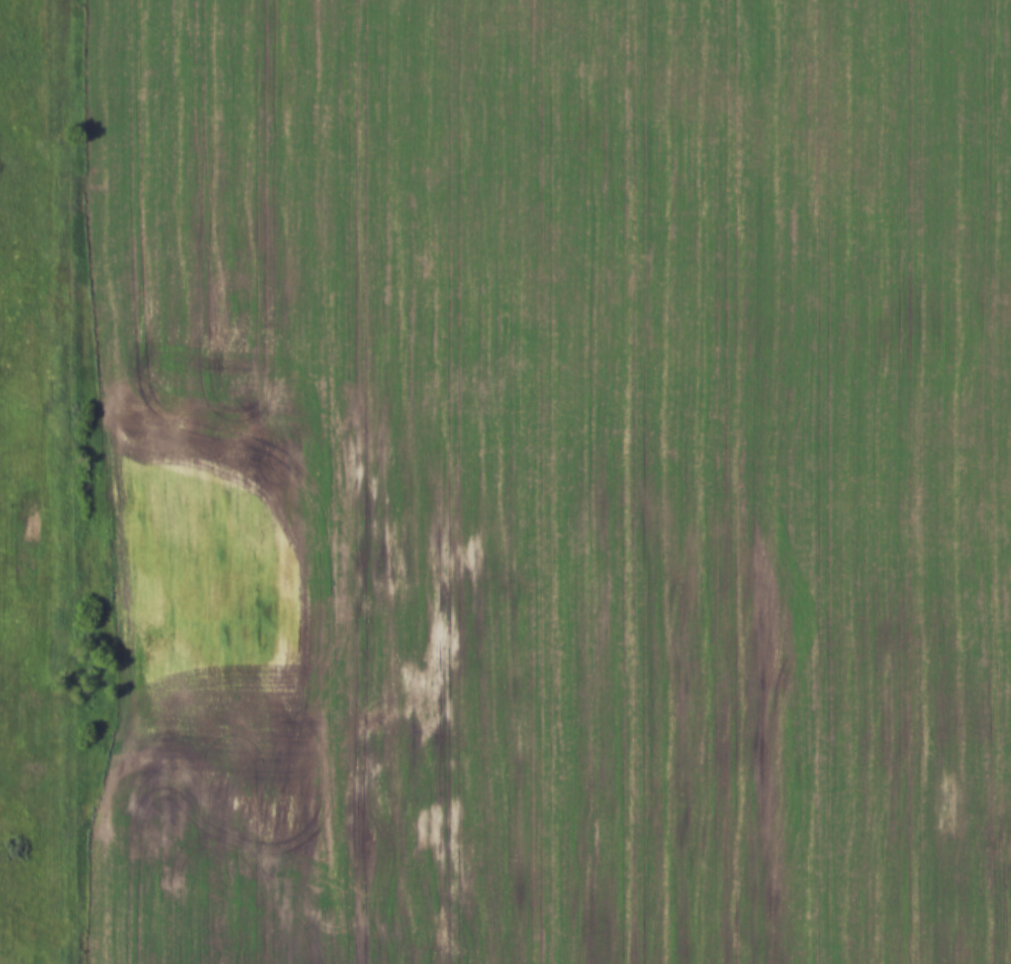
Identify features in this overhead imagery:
building: (894, 770)
building: (790, 777)

